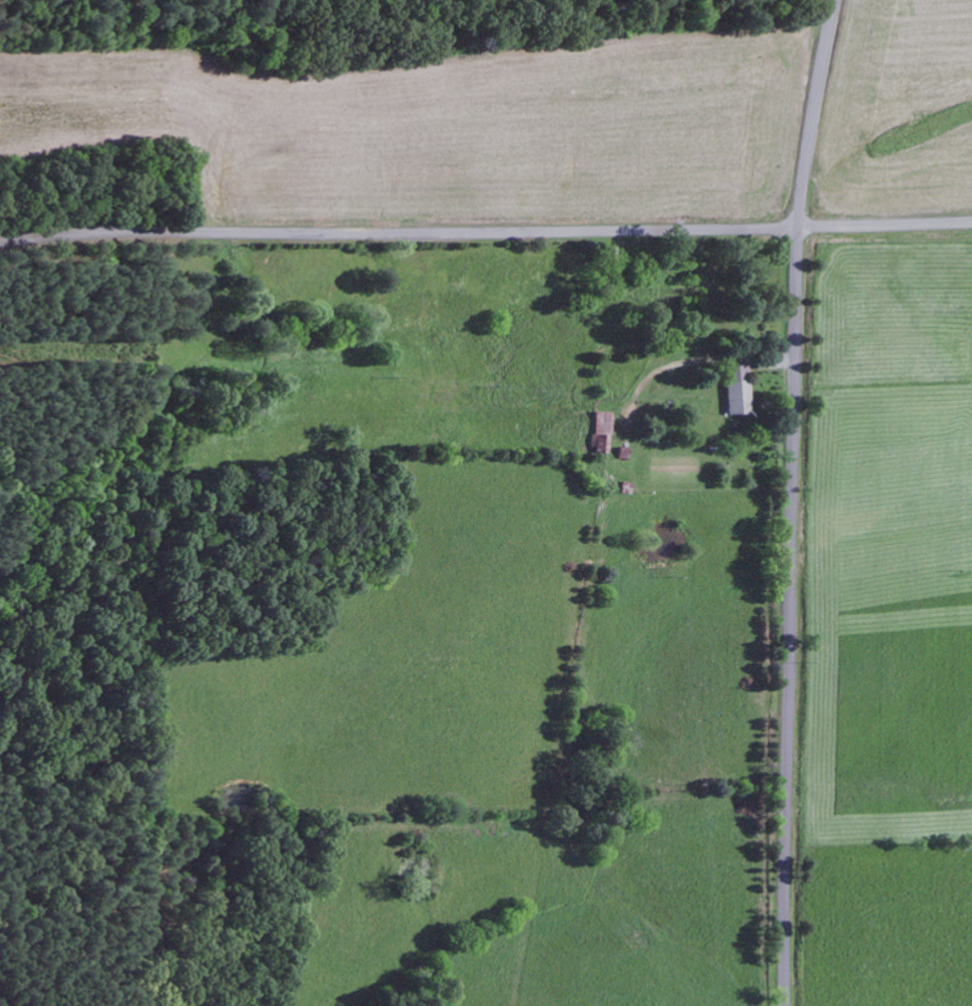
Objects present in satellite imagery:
road: (485, 231)
building: (736, 390)
building: (600, 433)
road: (790, 501)

